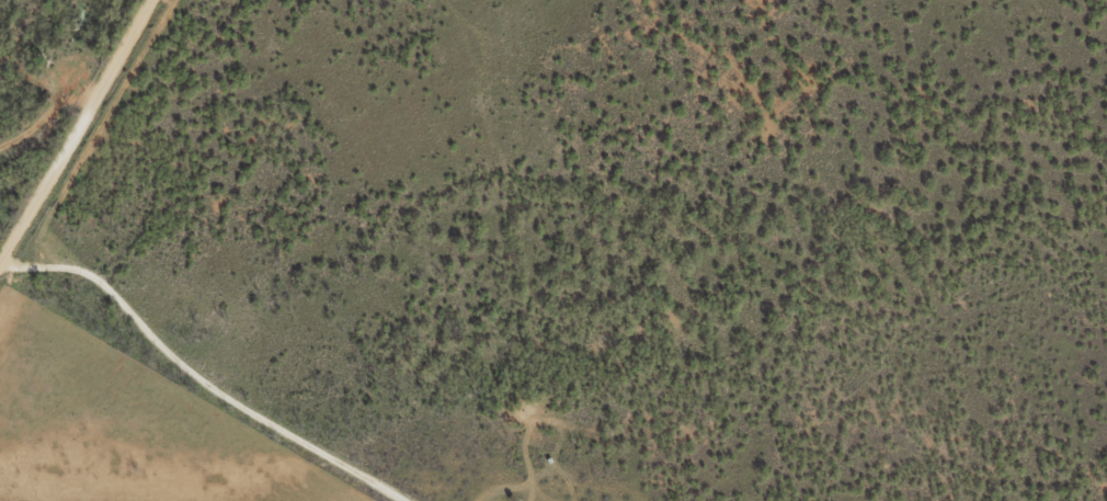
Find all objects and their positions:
road: (75, 130)

